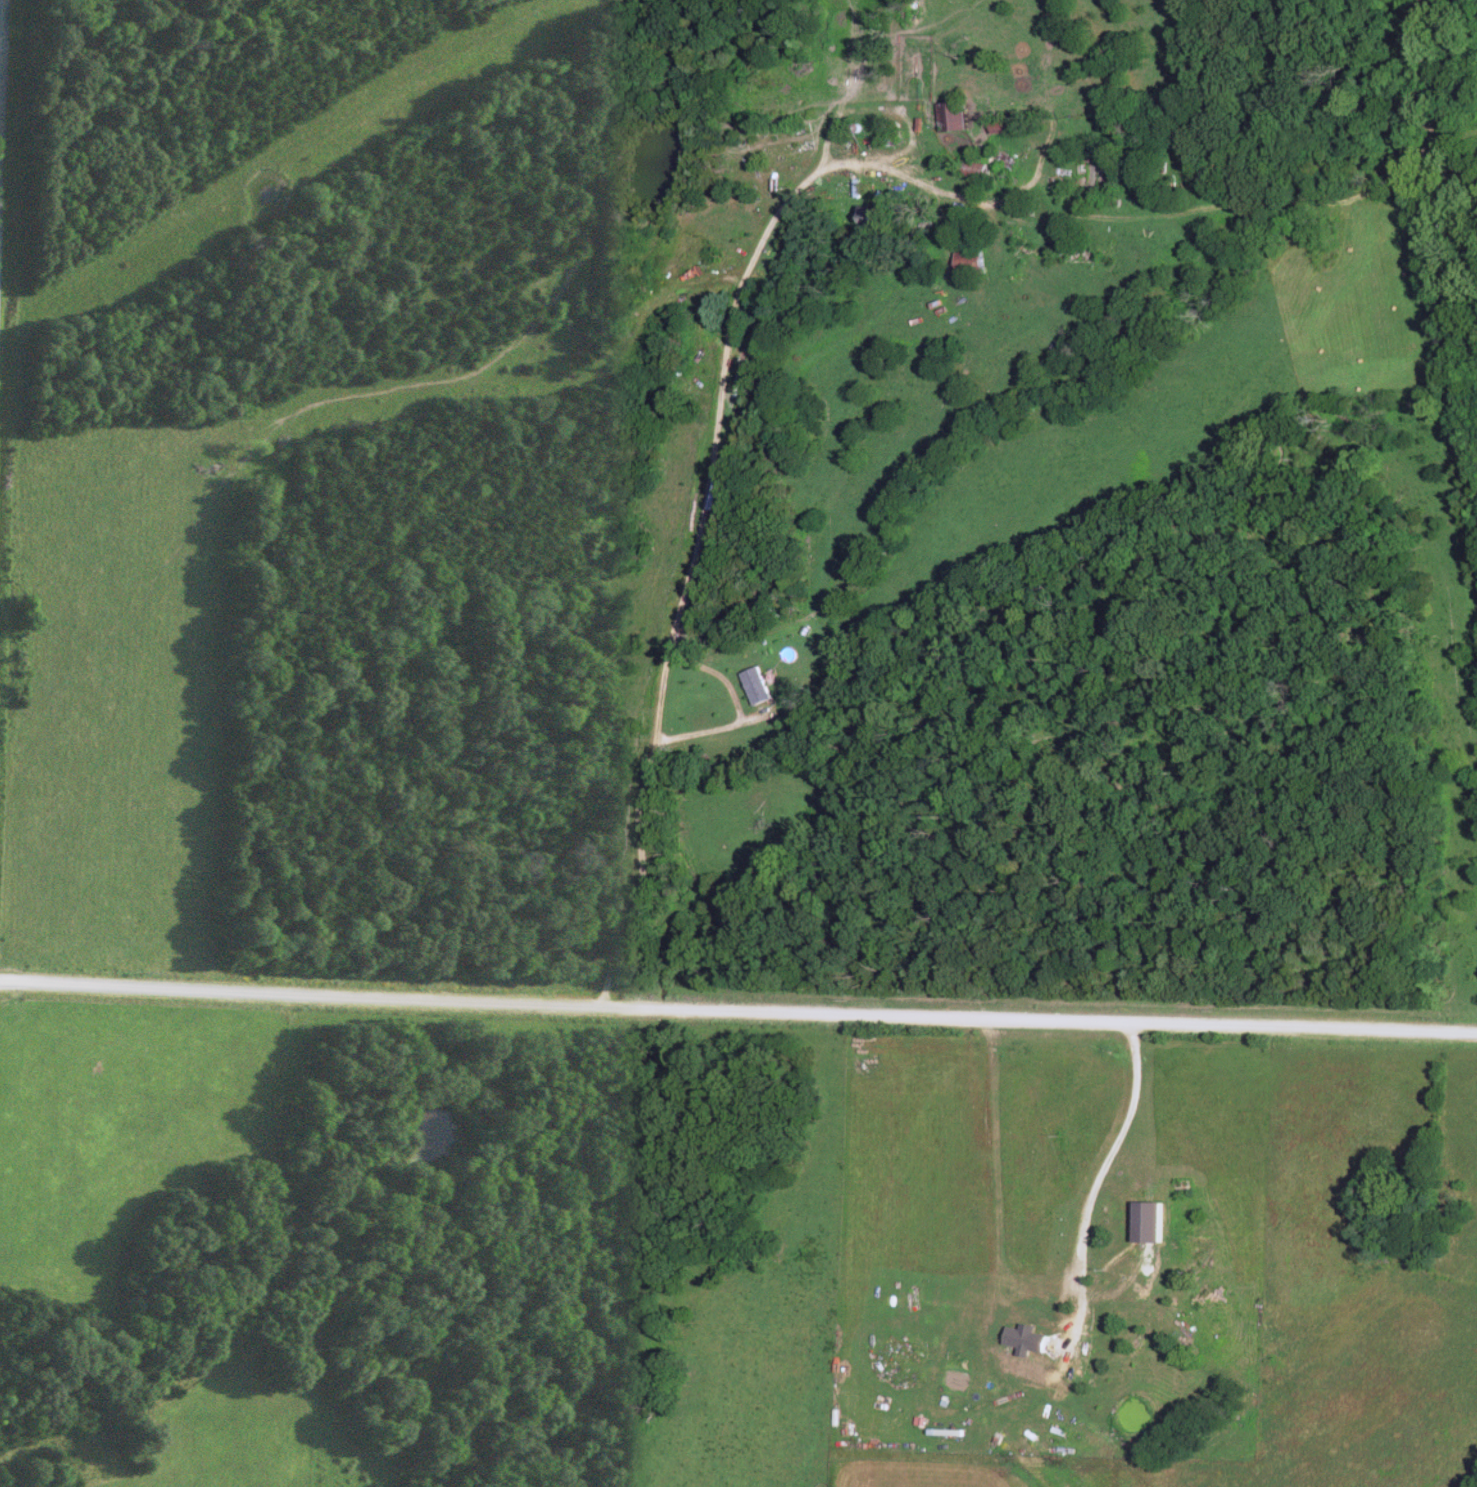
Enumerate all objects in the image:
building: (948, 118)
building: (1000, 128)
building: (1085, 158)
building: (1008, 161)
road: (6, 165)
building: (968, 171)
building: (870, 218)
building: (964, 264)
road: (701, 544)
road: (738, 1013)
road: (1097, 1168)

